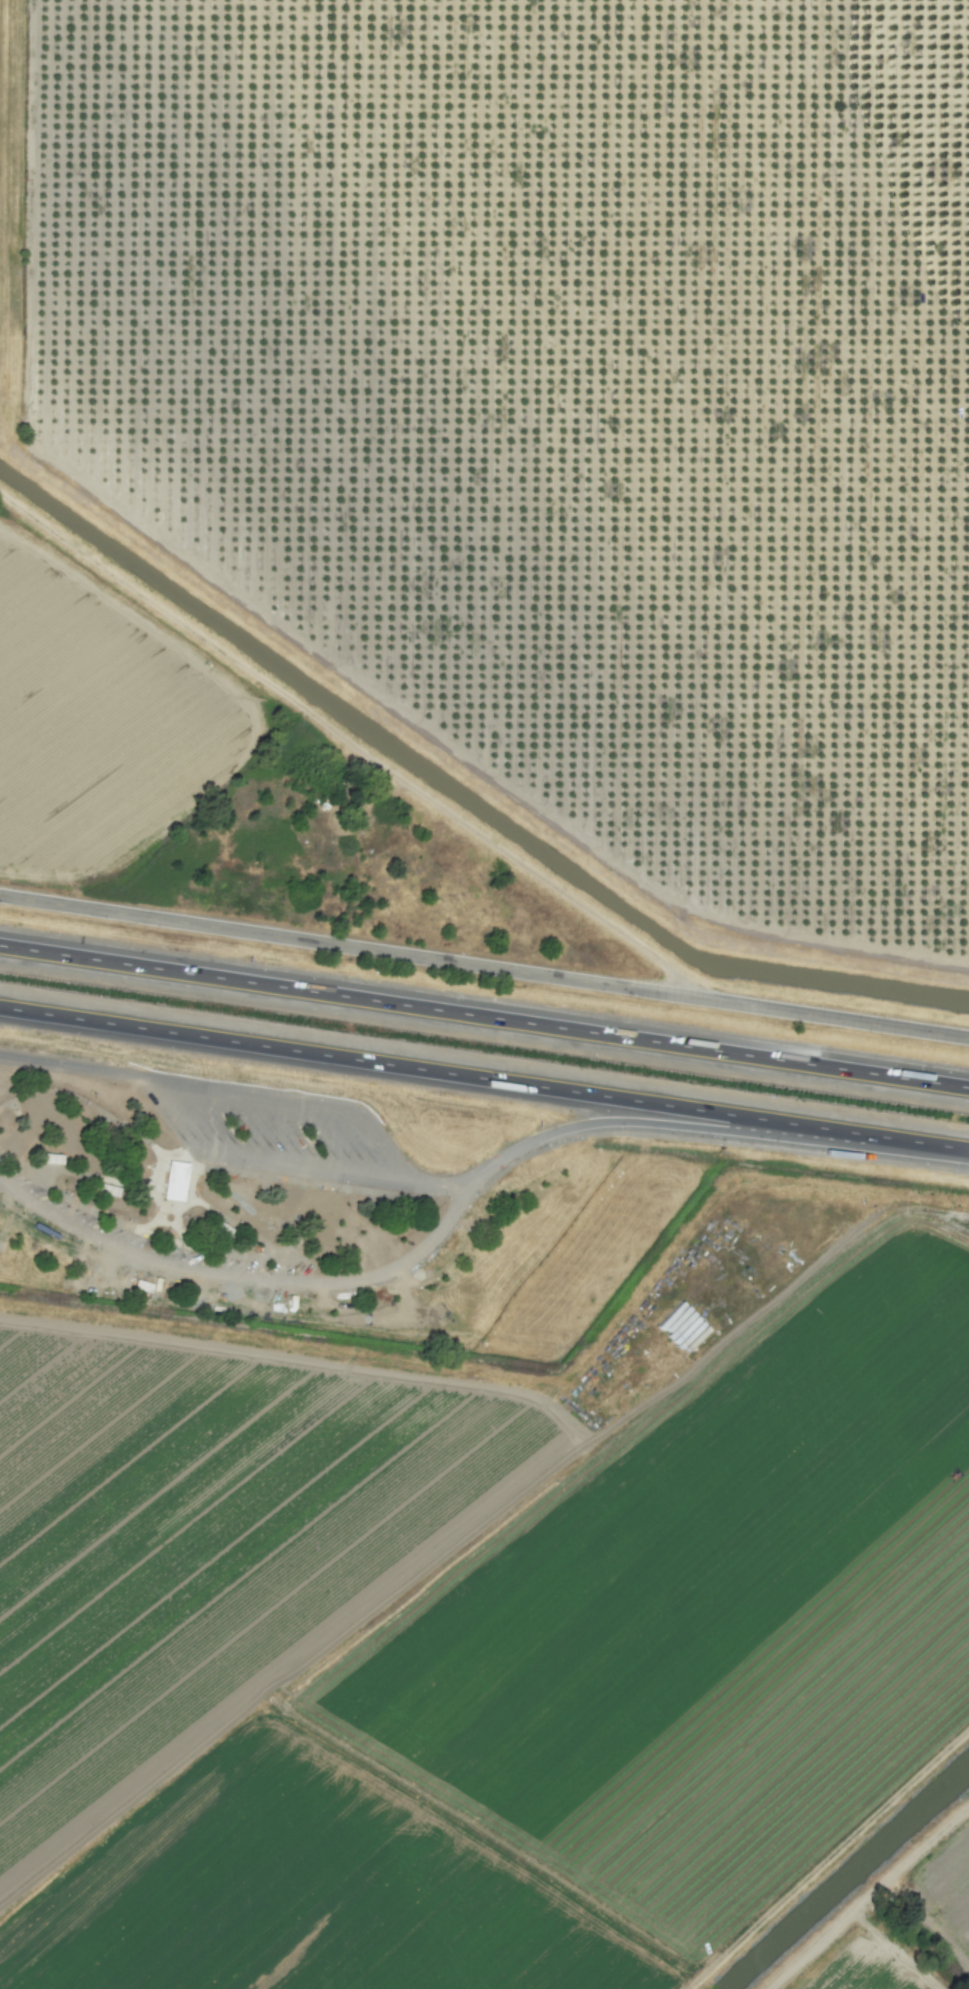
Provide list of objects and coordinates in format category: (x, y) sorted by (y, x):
road: (484, 967)
road: (484, 1015)
road: (484, 1078)
road: (265, 1093)
road: (668, 1126)
road: (266, 1161)
building: (173, 1180)
road: (88, 1234)
road: (362, 1279)
crop: (870, 1966)

